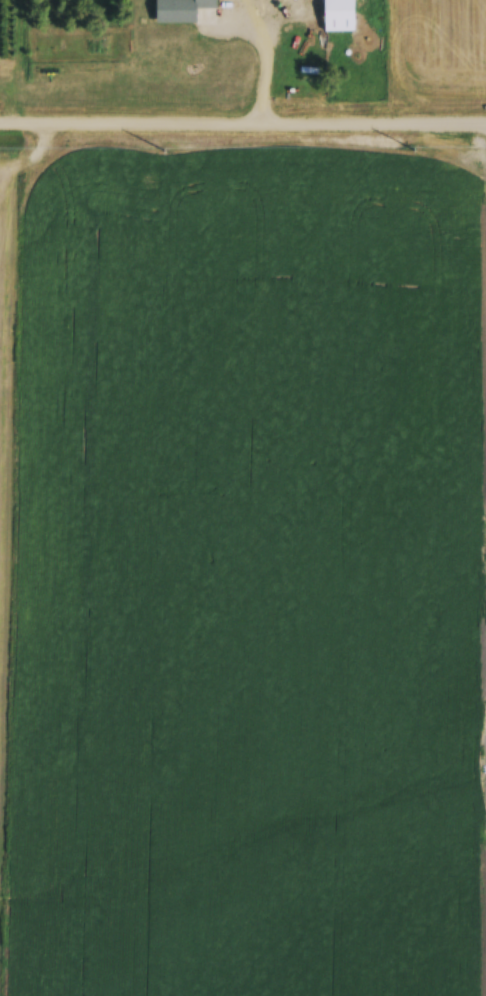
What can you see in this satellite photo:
building: (183, 12)
road: (256, 61)
road: (242, 124)

